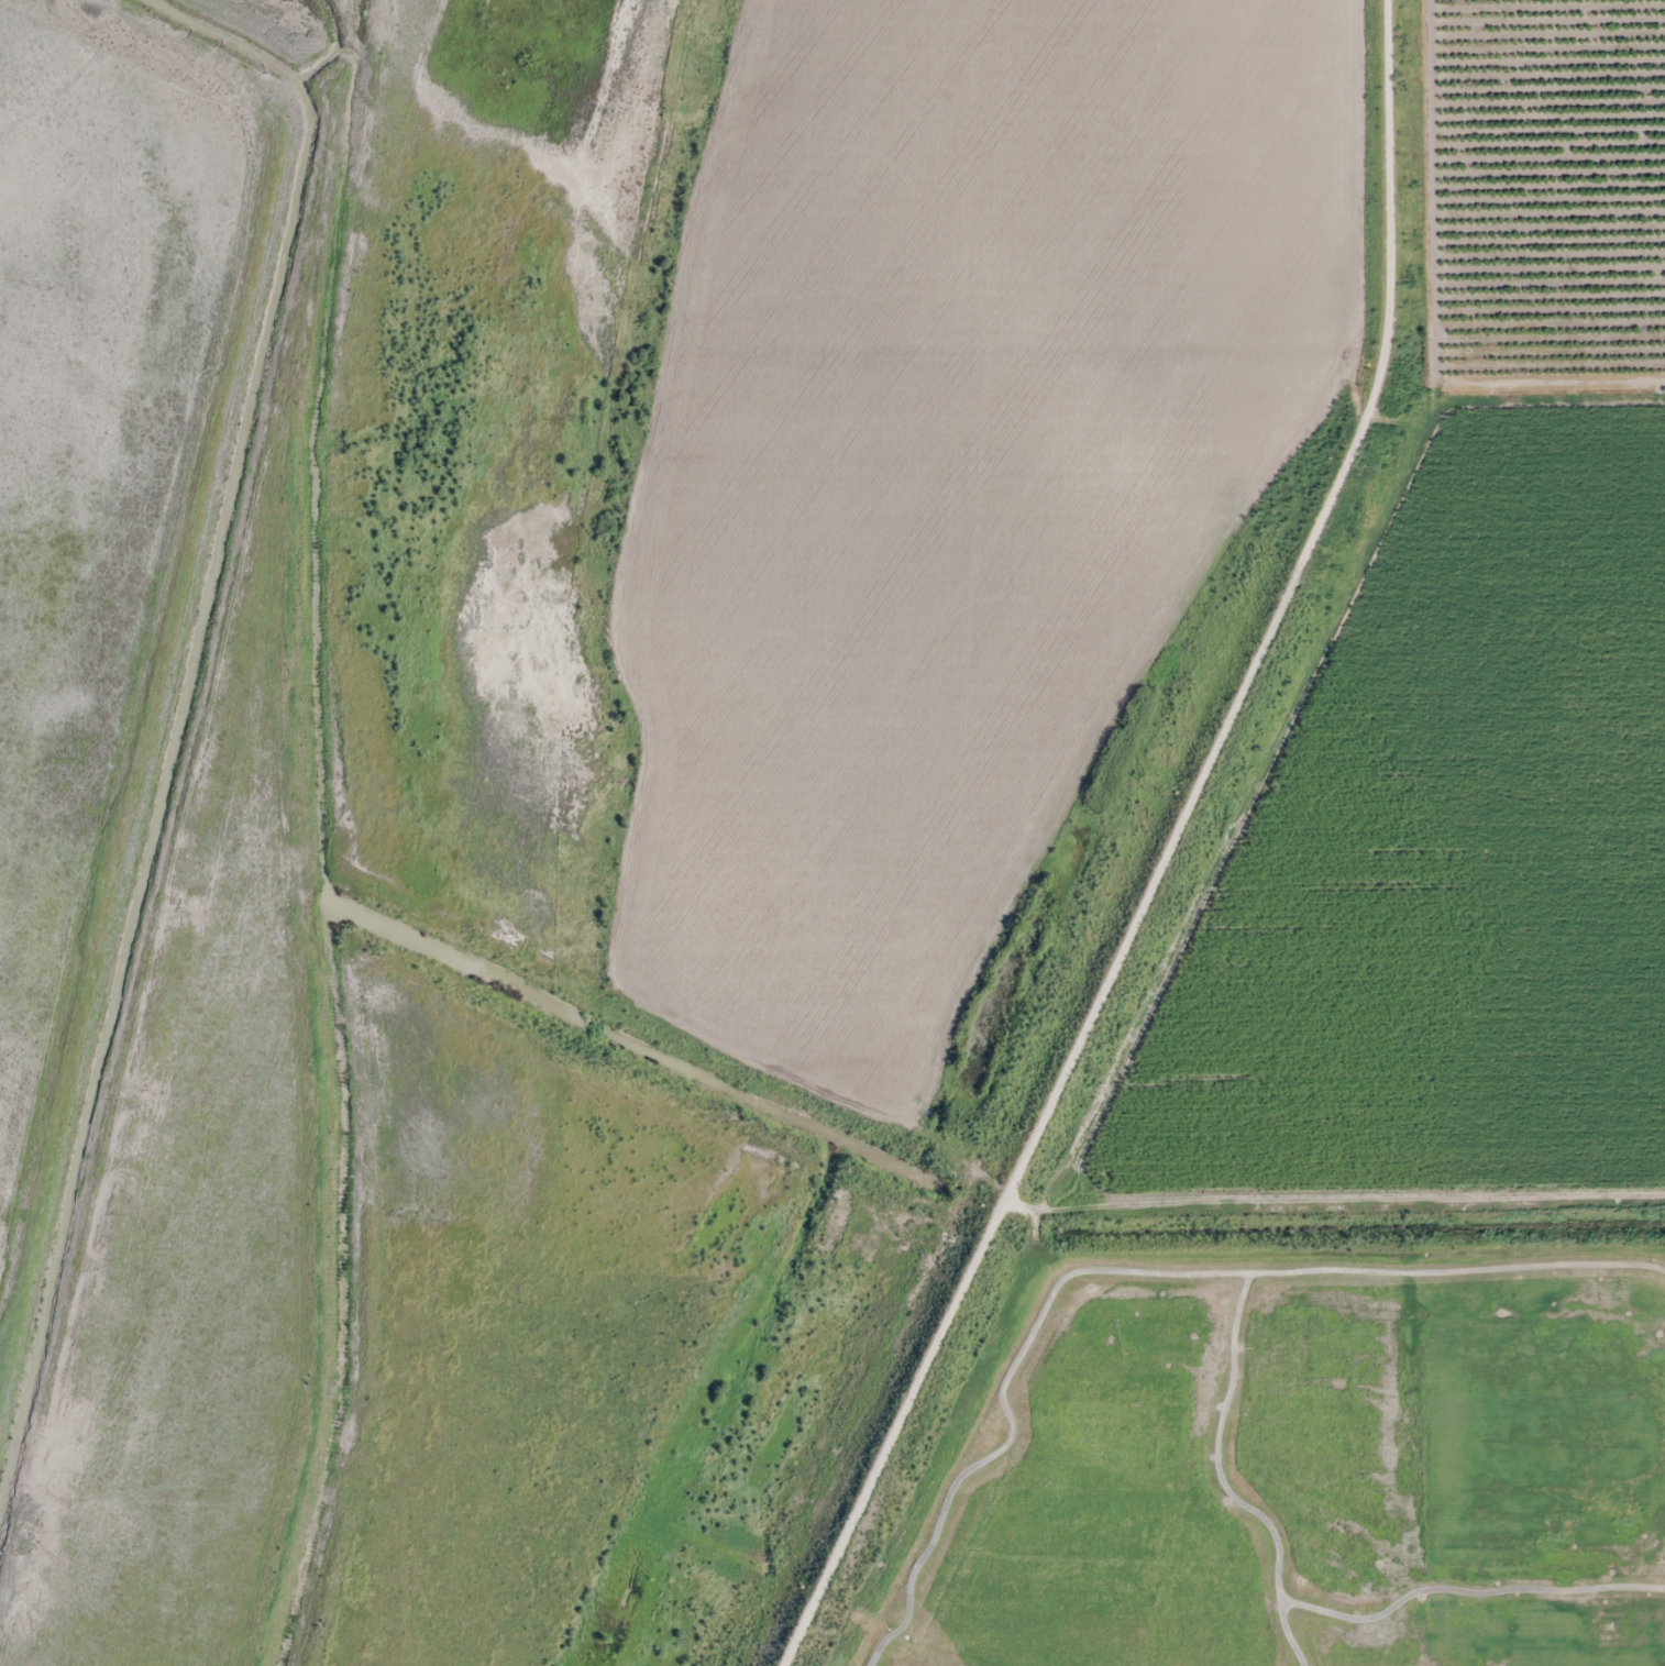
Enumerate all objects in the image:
road: (1189, 851)

